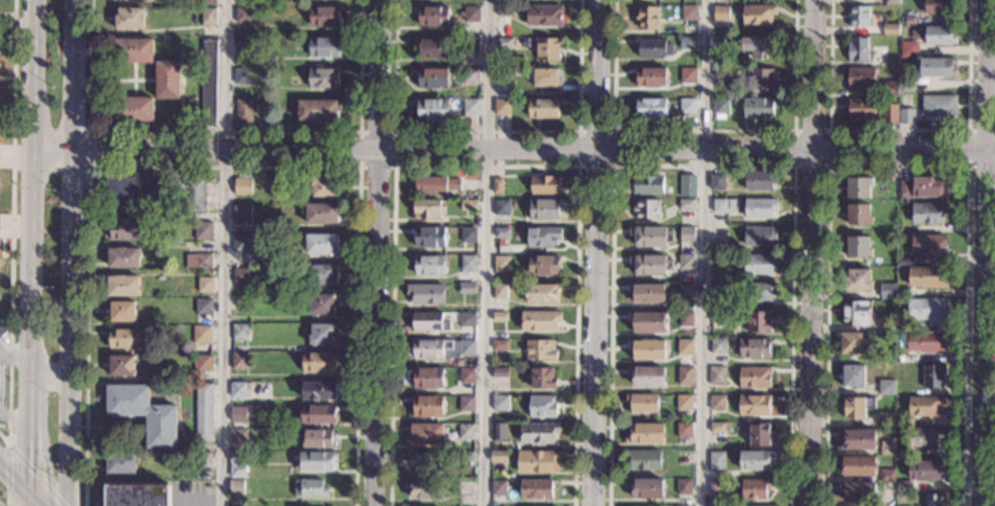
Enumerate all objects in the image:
building: (890, 1)
building: (206, 2)
building: (939, 6)
building: (503, 10)
building: (688, 13)
road: (6, 14)
building: (242, 14)
building: (460, 14)
building: (471, 14)
building: (542, 14)
building: (720, 14)
building: (756, 14)
building: (207, 15)
building: (323, 15)
building: (432, 15)
building: (857, 16)
building: (128, 17)
building: (645, 17)
building: (906, 19)
road: (17, 25)
building: (889, 29)
building: (939, 34)
building: (503, 42)
building: (686, 42)
building: (469, 43)
building: (720, 44)
building: (431, 46)
building: (756, 46)
building: (241, 47)
building: (322, 47)
building: (652, 47)
building: (546, 48)
building: (856, 48)
building: (132, 50)
building: (909, 50)
road: (6, 52)
building: (508, 64)
building: (937, 66)
building: (504, 72)
building: (720, 72)
building: (241, 75)
building: (469, 75)
building: (686, 75)
building: (432, 76)
building: (650, 76)
building: (322, 77)
building: (859, 77)
road: (6, 78)
building: (760, 78)
building: (166, 79)
building: (543, 79)
building: (207, 82)
building: (905, 83)
building: (889, 88)
building: (937, 105)
building: (470, 106)
building: (649, 106)
building: (686, 106)
building: (720, 106)
building: (756, 106)
building: (501, 107)
building: (541, 107)
building: (132, 108)
building: (432, 108)
building: (859, 108)
building: (242, 110)
building: (317, 110)
building: (888, 112)
building: (905, 116)
road: (899, 130)
road: (484, 132)
road: (612, 132)
road: (702, 132)
road: (224, 133)
road: (968, 147)
road: (89, 150)
road: (514, 151)
road: (829, 164)
road: (393, 165)
road: (898, 165)
road: (484, 166)
road: (703, 166)
road: (224, 167)
building: (758, 179)
building: (715, 181)
building: (543, 183)
building: (433, 184)
building: (645, 184)
building: (240, 185)
building: (321, 185)
building: (496, 185)
building: (687, 186)
building: (856, 186)
building: (929, 186)
building: (903, 188)
building: (134, 189)
building: (193, 194)
building: (685, 204)
building: (466, 205)
building: (718, 205)
building: (500, 207)
building: (758, 207)
building: (425, 208)
building: (542, 209)
building: (645, 209)
building: (927, 212)
building: (240, 213)
building: (320, 213)
building: (856, 214)
road: (10, 227)
building: (904, 228)
building: (125, 229)
building: (202, 230)
building: (500, 232)
building: (467, 234)
building: (685, 234)
building: (428, 235)
building: (542, 235)
building: (758, 235)
building: (648, 237)
building: (191, 243)
building: (197, 243)
building: (239, 243)
building: (320, 243)
building: (926, 243)
road: (30, 245)
building: (856, 246)
road: (69, 252)
road: (224, 252)
road: (374, 252)
road: (594, 252)
road: (702, 252)
road: (811, 252)
road: (984, 252)
road: (485, 253)
building: (122, 257)
building: (197, 261)
building: (903, 261)
building: (467, 262)
building: (500, 263)
building: (686, 263)
building: (757, 263)
building: (542, 264)
building: (648, 264)
building: (428, 265)
building: (318, 273)
building: (238, 275)
building: (719, 275)
building: (925, 277)
building: (856, 278)
building: (203, 284)
building: (121, 285)
building: (466, 287)
building: (685, 290)
building: (716, 290)
building: (885, 290)
building: (498, 291)
building: (758, 291)
building: (540, 292)
building: (645, 292)
building: (424, 293)
building: (902, 293)
building: (320, 303)
building: (201, 305)
building: (927, 310)
building: (119, 312)
building: (854, 313)
building: (716, 315)
building: (498, 316)
building: (466, 318)
building: (538, 319)
building: (685, 319)
building: (428, 320)
building: (646, 321)
building: (756, 321)
building: (886, 323)
building: (903, 325)
building: (2, 329)
building: (237, 331)
building: (200, 333)
building: (320, 333)
building: (122, 338)
building: (925, 342)
building: (850, 343)
building: (498, 344)
building: (683, 346)
building: (717, 346)
building: (465, 347)
building: (753, 347)
building: (428, 348)
building: (539, 349)
building: (646, 349)
road: (14, 354)
building: (879, 357)
building: (238, 360)
building: (316, 361)
building: (201, 362)
building: (120, 366)
building: (499, 372)
building: (465, 375)
building: (645, 375)
building: (683, 375)
building: (716, 375)
building: (850, 375)
building: (932, 375)
building: (540, 377)
building: (753, 377)
building: (426, 378)
building: (1, 379)
road: (48, 379)
building: (884, 387)
building: (237, 389)
building: (316, 389)
building: (498, 402)
building: (640, 402)
building: (683, 402)
building: (716, 402)
building: (464, 403)
building: (753, 404)
building: (854, 405)
building: (425, 406)
building: (540, 406)
building: (924, 406)
building: (203, 412)
building: (316, 412)
road: (13, 413)
building: (142, 413)
building: (236, 414)
building: (884, 419)
building: (903, 422)
building: (718, 428)
building: (684, 430)
building: (464, 431)
building: (497, 431)
building: (537, 432)
building: (425, 433)
building: (642, 433)
building: (758, 435)
building: (922, 436)
building: (236, 437)
building: (317, 438)
building: (854, 439)
road: (8, 443)
building: (885, 447)
road: (44, 451)
building: (901, 454)
building: (464, 457)
building: (497, 457)
building: (202, 459)
building: (641, 459)
building: (315, 460)
building: (754, 460)
building: (537, 461)
building: (715, 461)
building: (423, 462)
building: (119, 464)
building: (235, 464)
building: (855, 466)
building: (924, 469)
building: (885, 475)
road: (12, 476)
road: (40, 479)
building: (643, 486)
building: (903, 486)
building: (234, 487)
building: (681, 487)
building: (716, 487)
building: (308, 488)
building: (421, 488)
building: (463, 488)
building: (496, 488)
building: (534, 489)
building: (752, 489)
traffic signals: (26, 490)
building: (886, 490)
building: (856, 492)
road: (52, 493)
building: (136, 495)
road: (7, 498)
road: (25, 498)
road: (33, 498)
building: (932, 500)
building: (636, 505)
building: (679, 505)
building: (765, 505)

